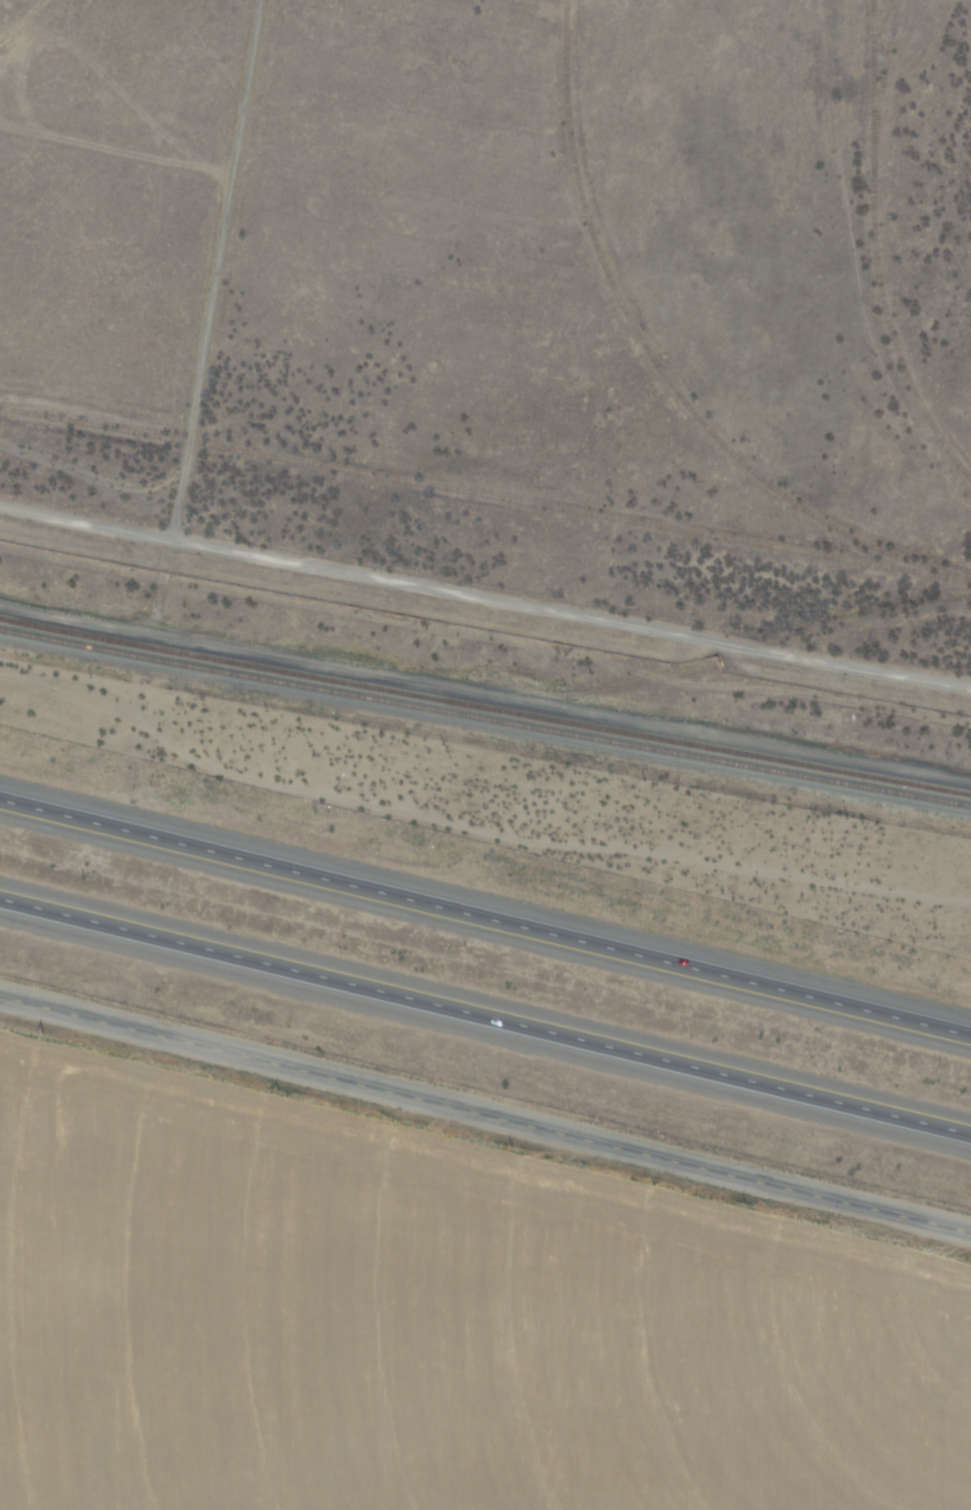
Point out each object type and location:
railway: (873, 252)
railway: (658, 367)
railway: (485, 494)
road: (483, 600)
railway: (891, 608)
railway: (485, 704)
railway: (485, 717)
road: (485, 908)
road: (485, 1005)
road: (485, 1110)

